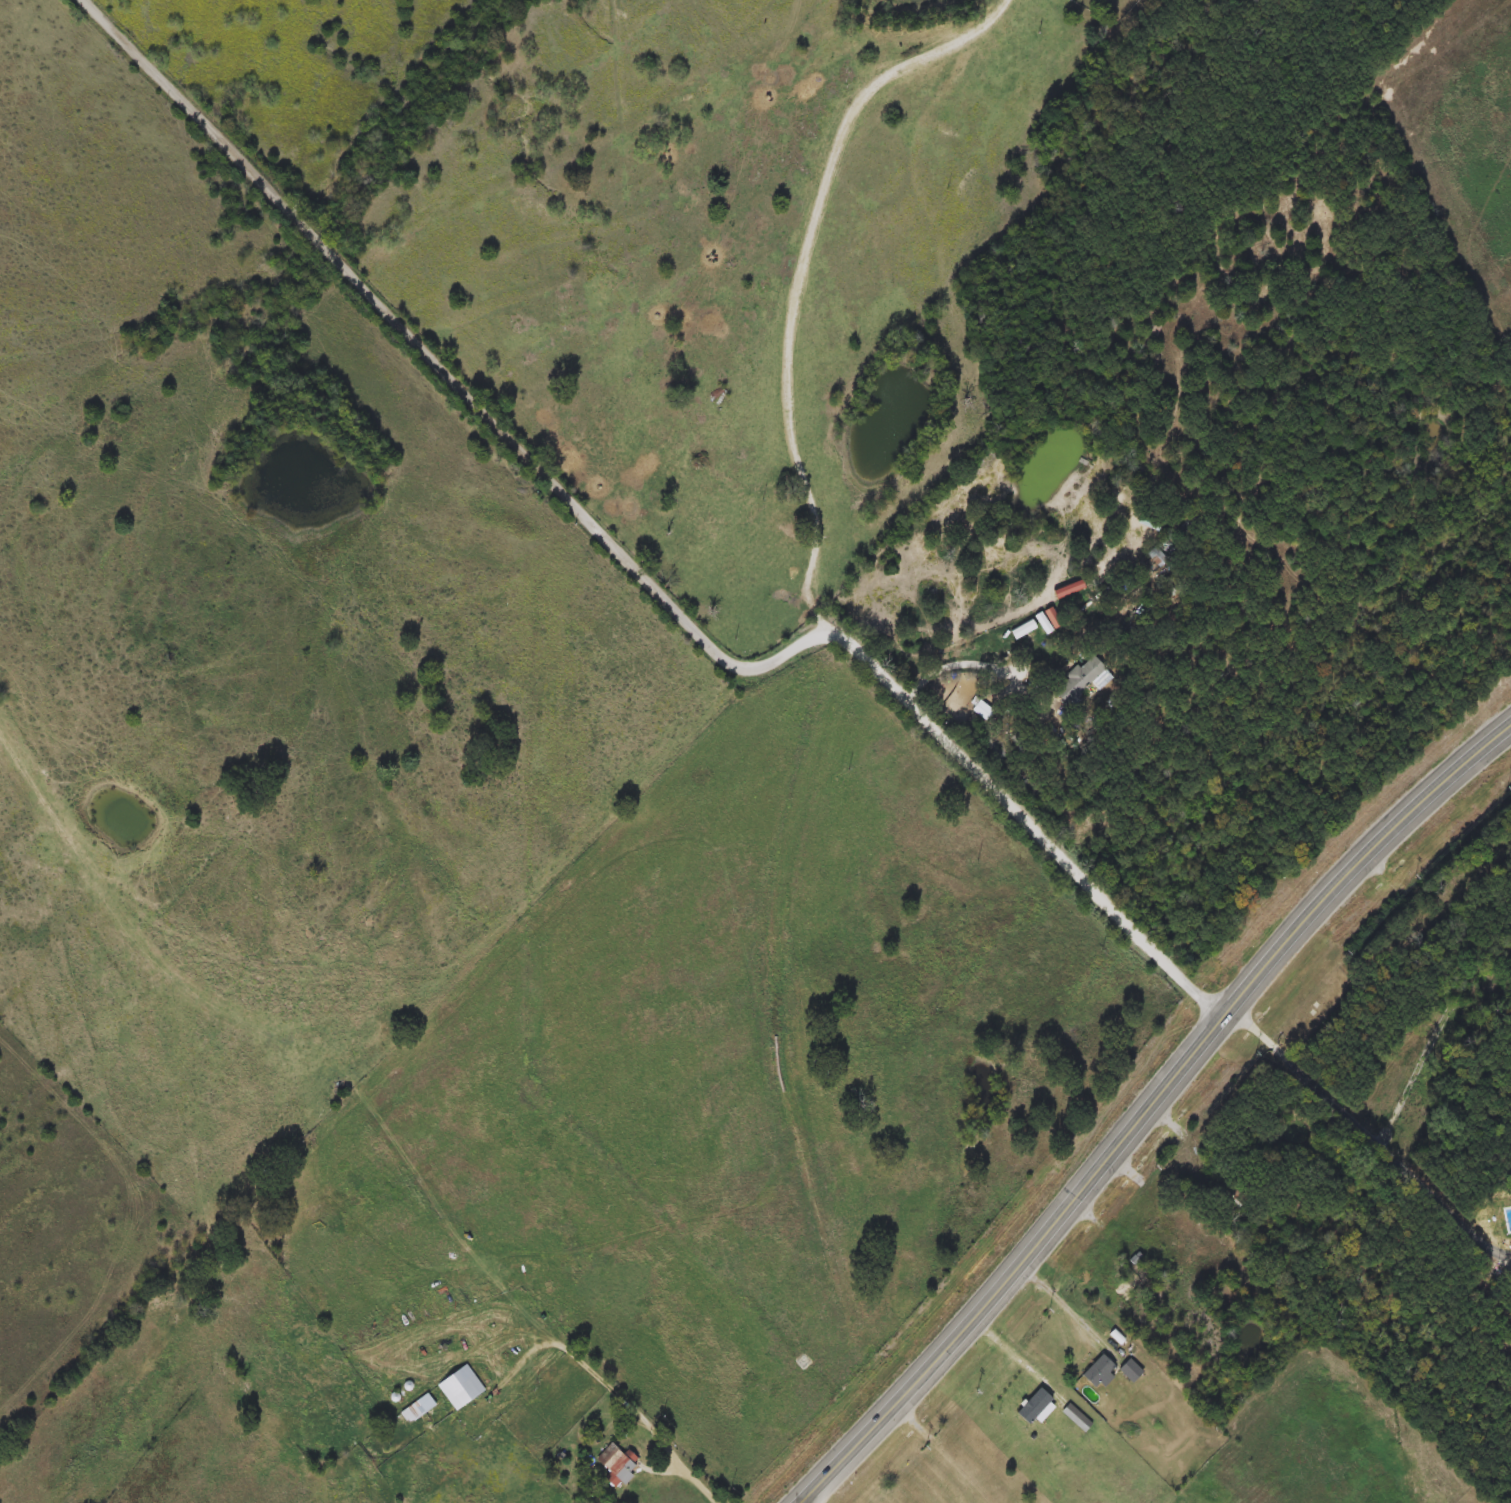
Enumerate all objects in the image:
road: (452, 160)
road: (343, 264)
road: (801, 275)
building: (1156, 557)
road: (975, 662)
building: (1077, 680)
building: (981, 711)
road: (926, 717)
road: (1150, 1108)
road: (1368, 1135)
road: (1098, 1224)
road: (1060, 1297)
road: (494, 1340)
building: (1097, 1372)
road: (599, 1377)
building: (460, 1387)
road: (558, 1388)
building: (420, 1407)
road: (918, 1426)
building: (615, 1464)

